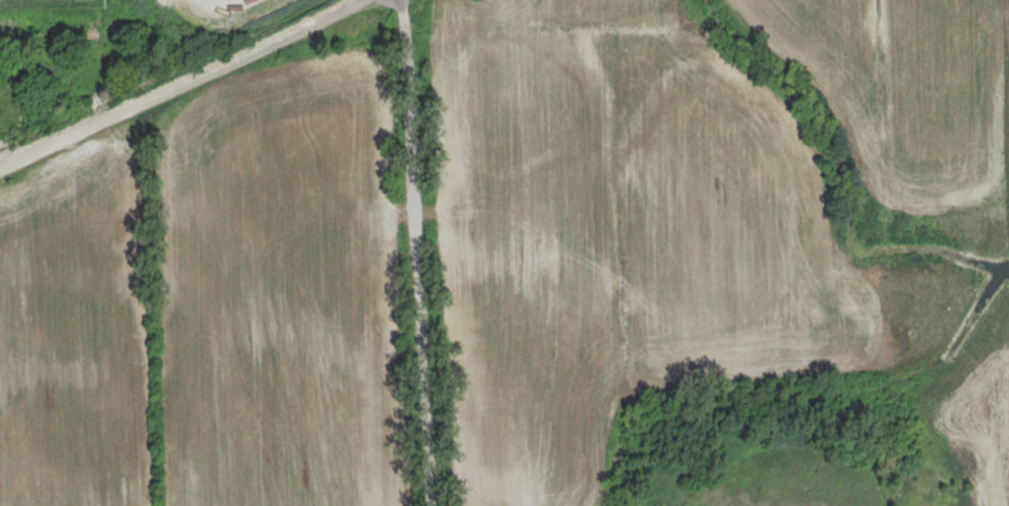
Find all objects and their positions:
road: (180, 85)
road: (416, 253)
river: (1004, 268)

